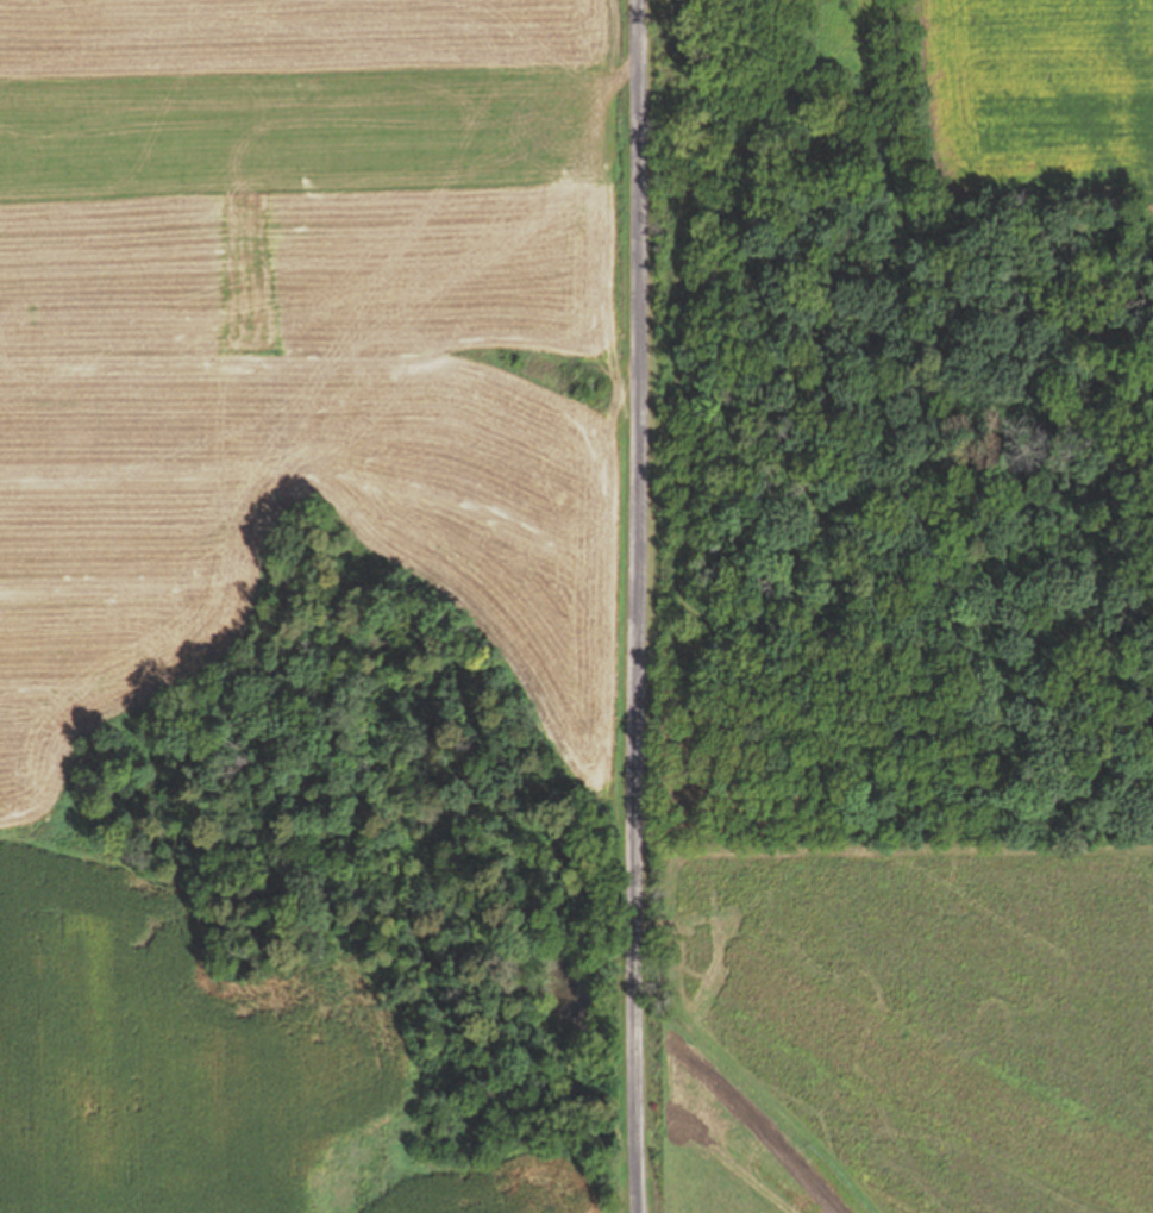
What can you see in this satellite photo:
road: (639, 606)

